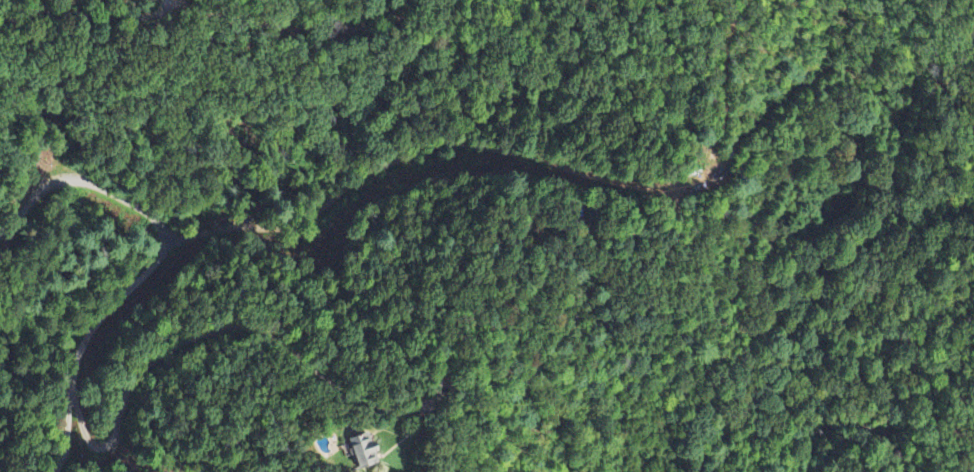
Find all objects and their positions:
road: (171, 288)
building: (361, 451)

